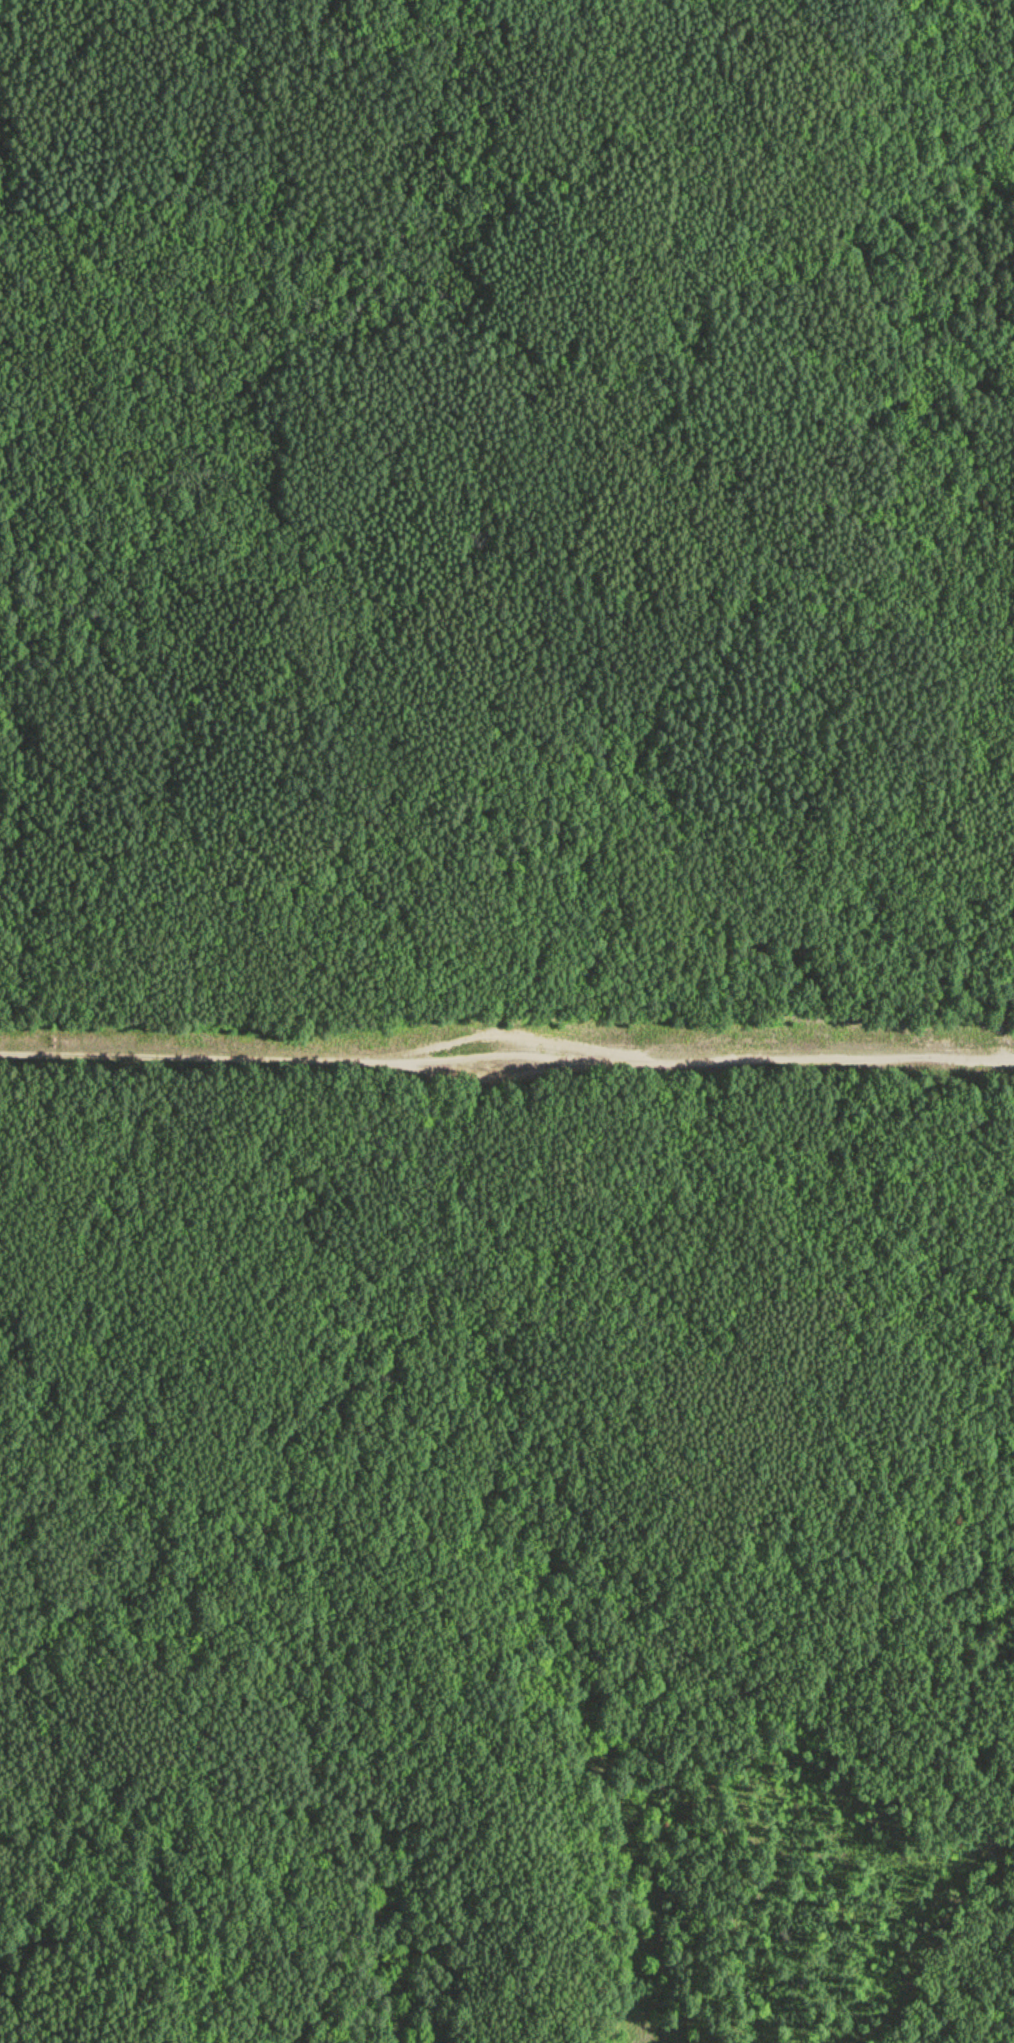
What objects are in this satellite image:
road: (507, 1060)

